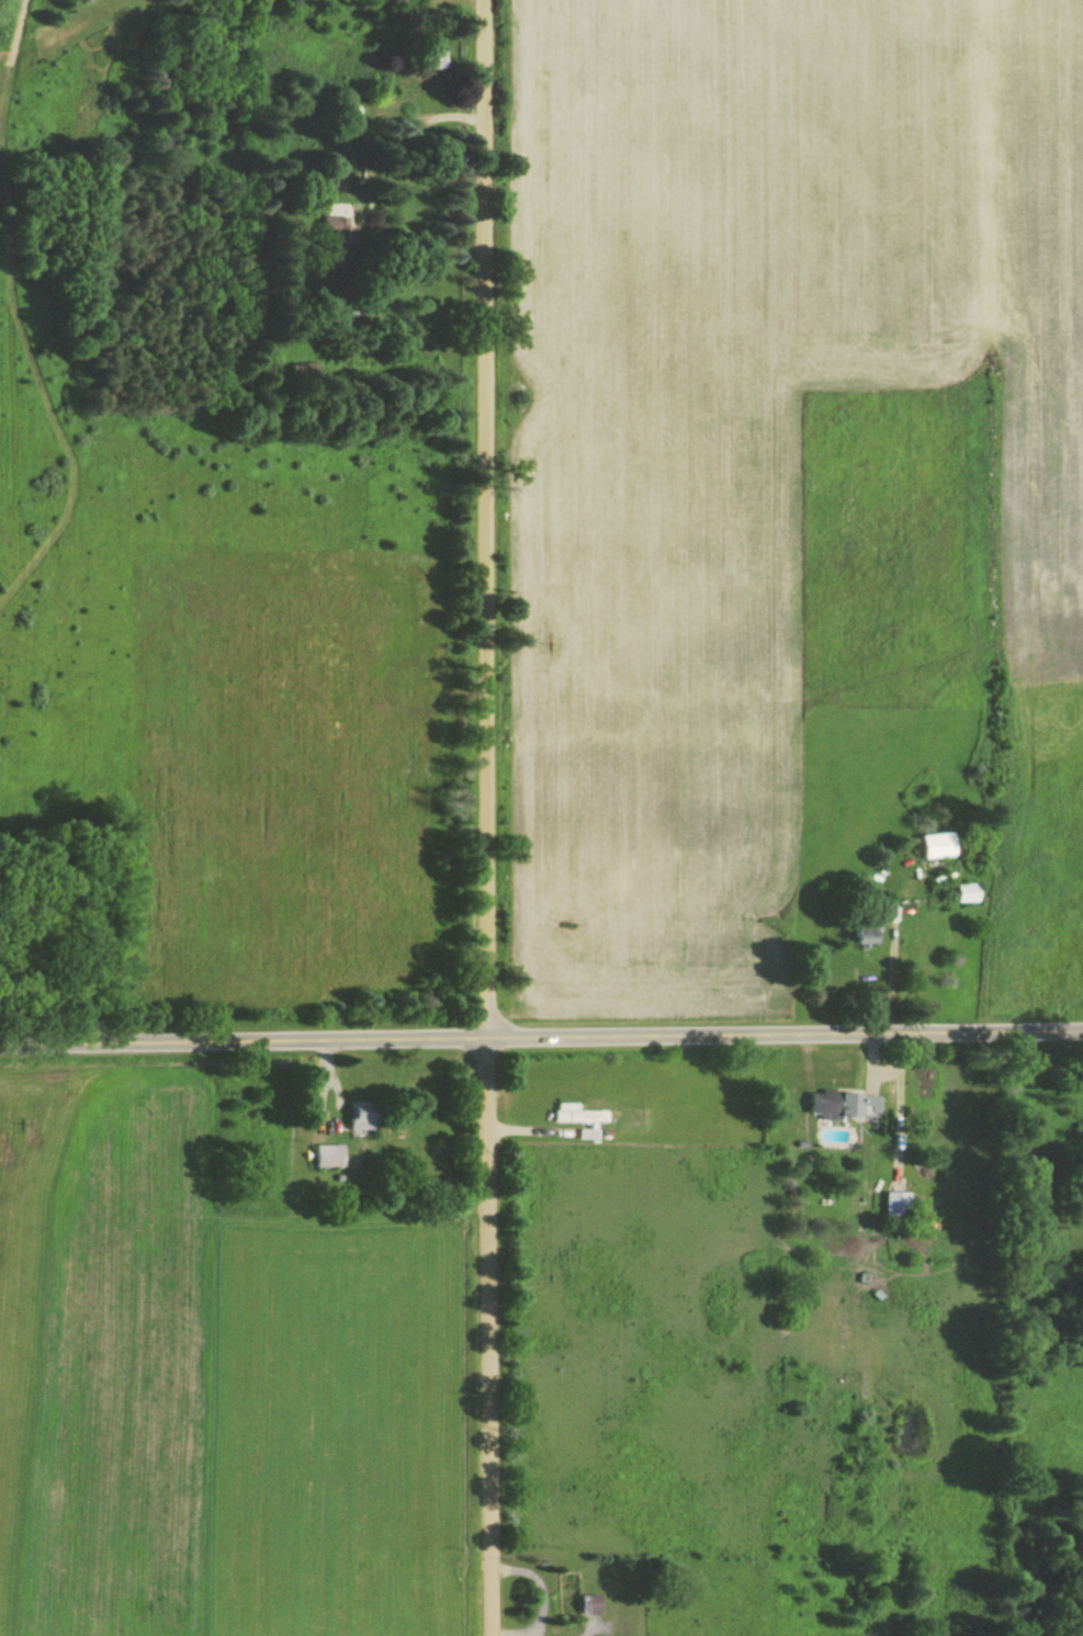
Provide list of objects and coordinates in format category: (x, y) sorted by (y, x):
building: (432, 60)
building: (336, 241)
road: (487, 817)
building: (935, 848)
building: (964, 895)
building: (862, 934)
road: (541, 1037)
building: (846, 1107)
building: (360, 1118)
building: (578, 1121)
building: (327, 1158)
building: (895, 1214)
building: (574, 1599)

